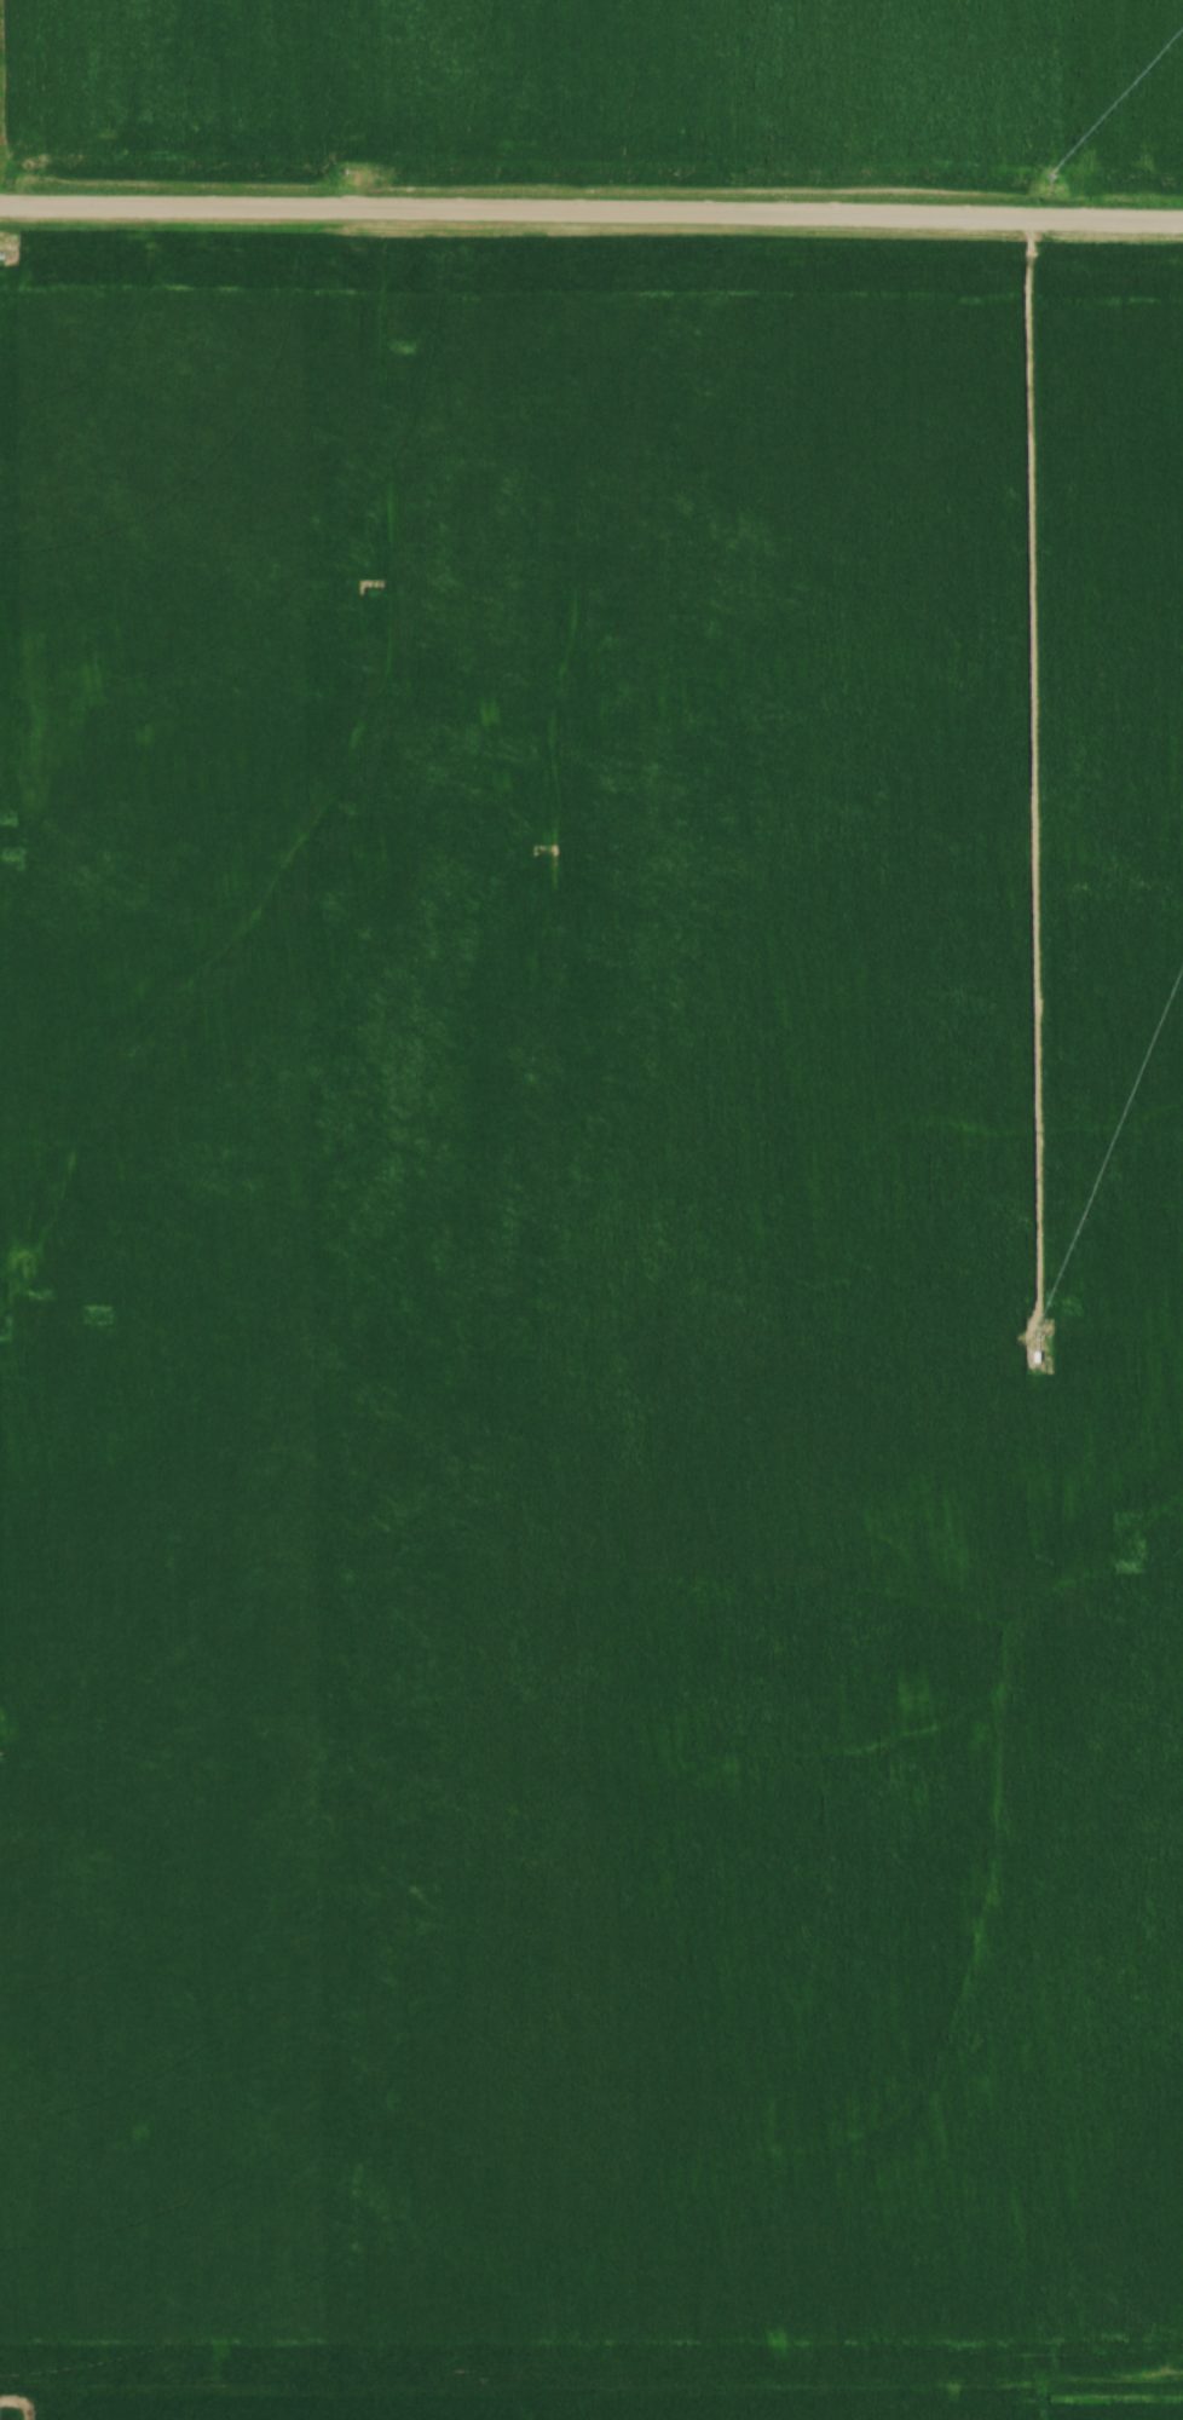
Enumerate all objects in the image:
road: (591, 215)

